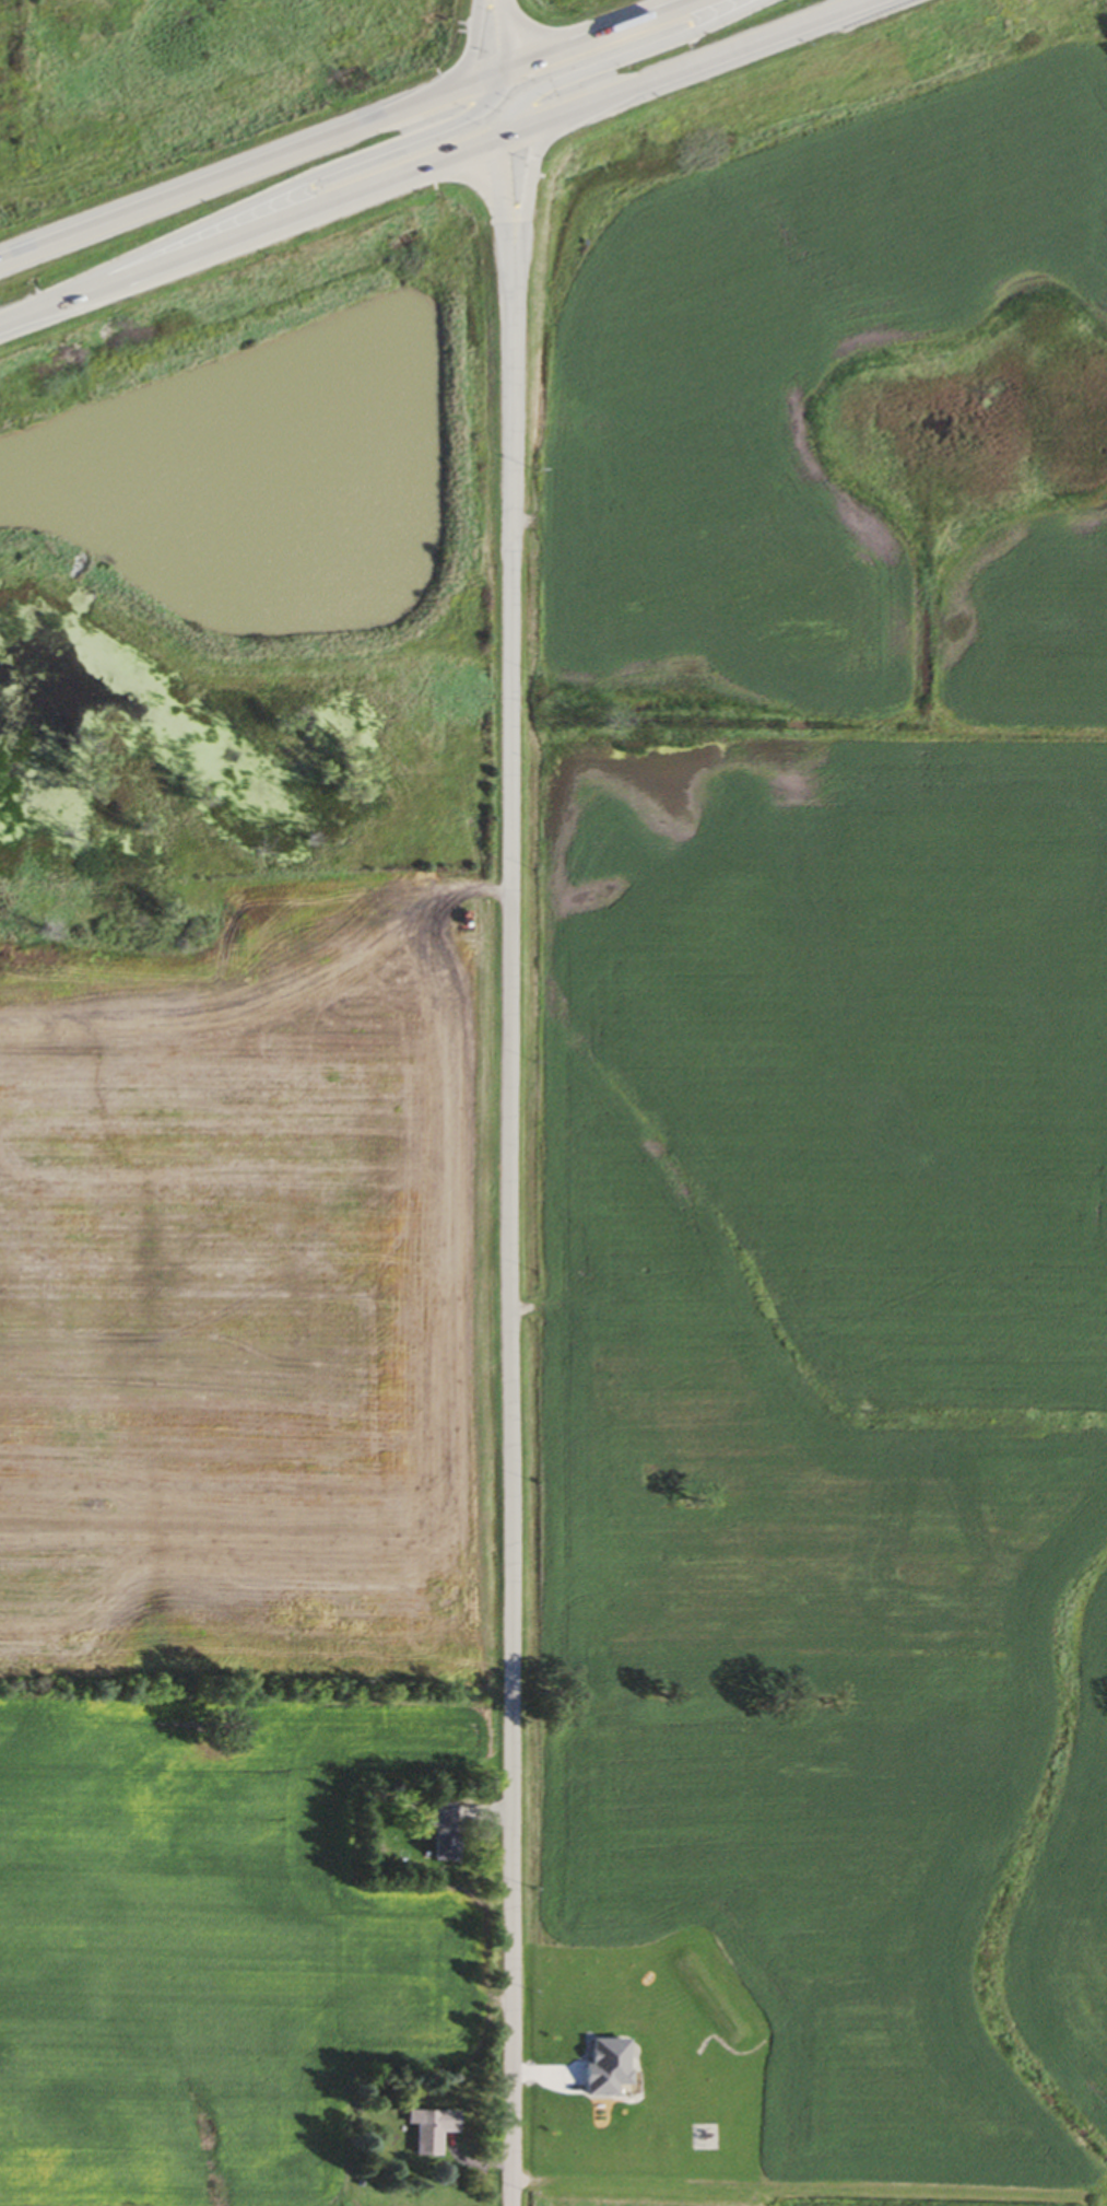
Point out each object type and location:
road: (502, 37)
road: (608, 37)
road: (470, 58)
road: (707, 60)
road: (613, 61)
road: (255, 170)
road: (282, 186)
road: (523, 186)
road: (500, 199)
road: (275, 219)
road: (510, 1232)
road: (809, 2181)

